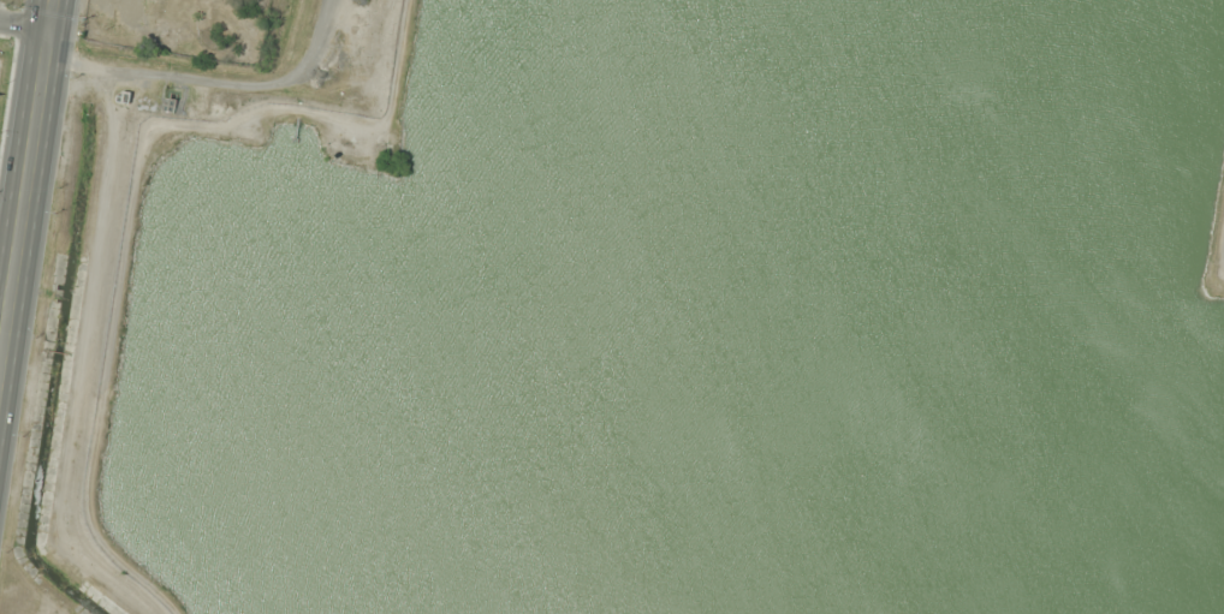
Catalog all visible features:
road: (25, 28)
road: (28, 191)
wastewater plant: (708, 323)

